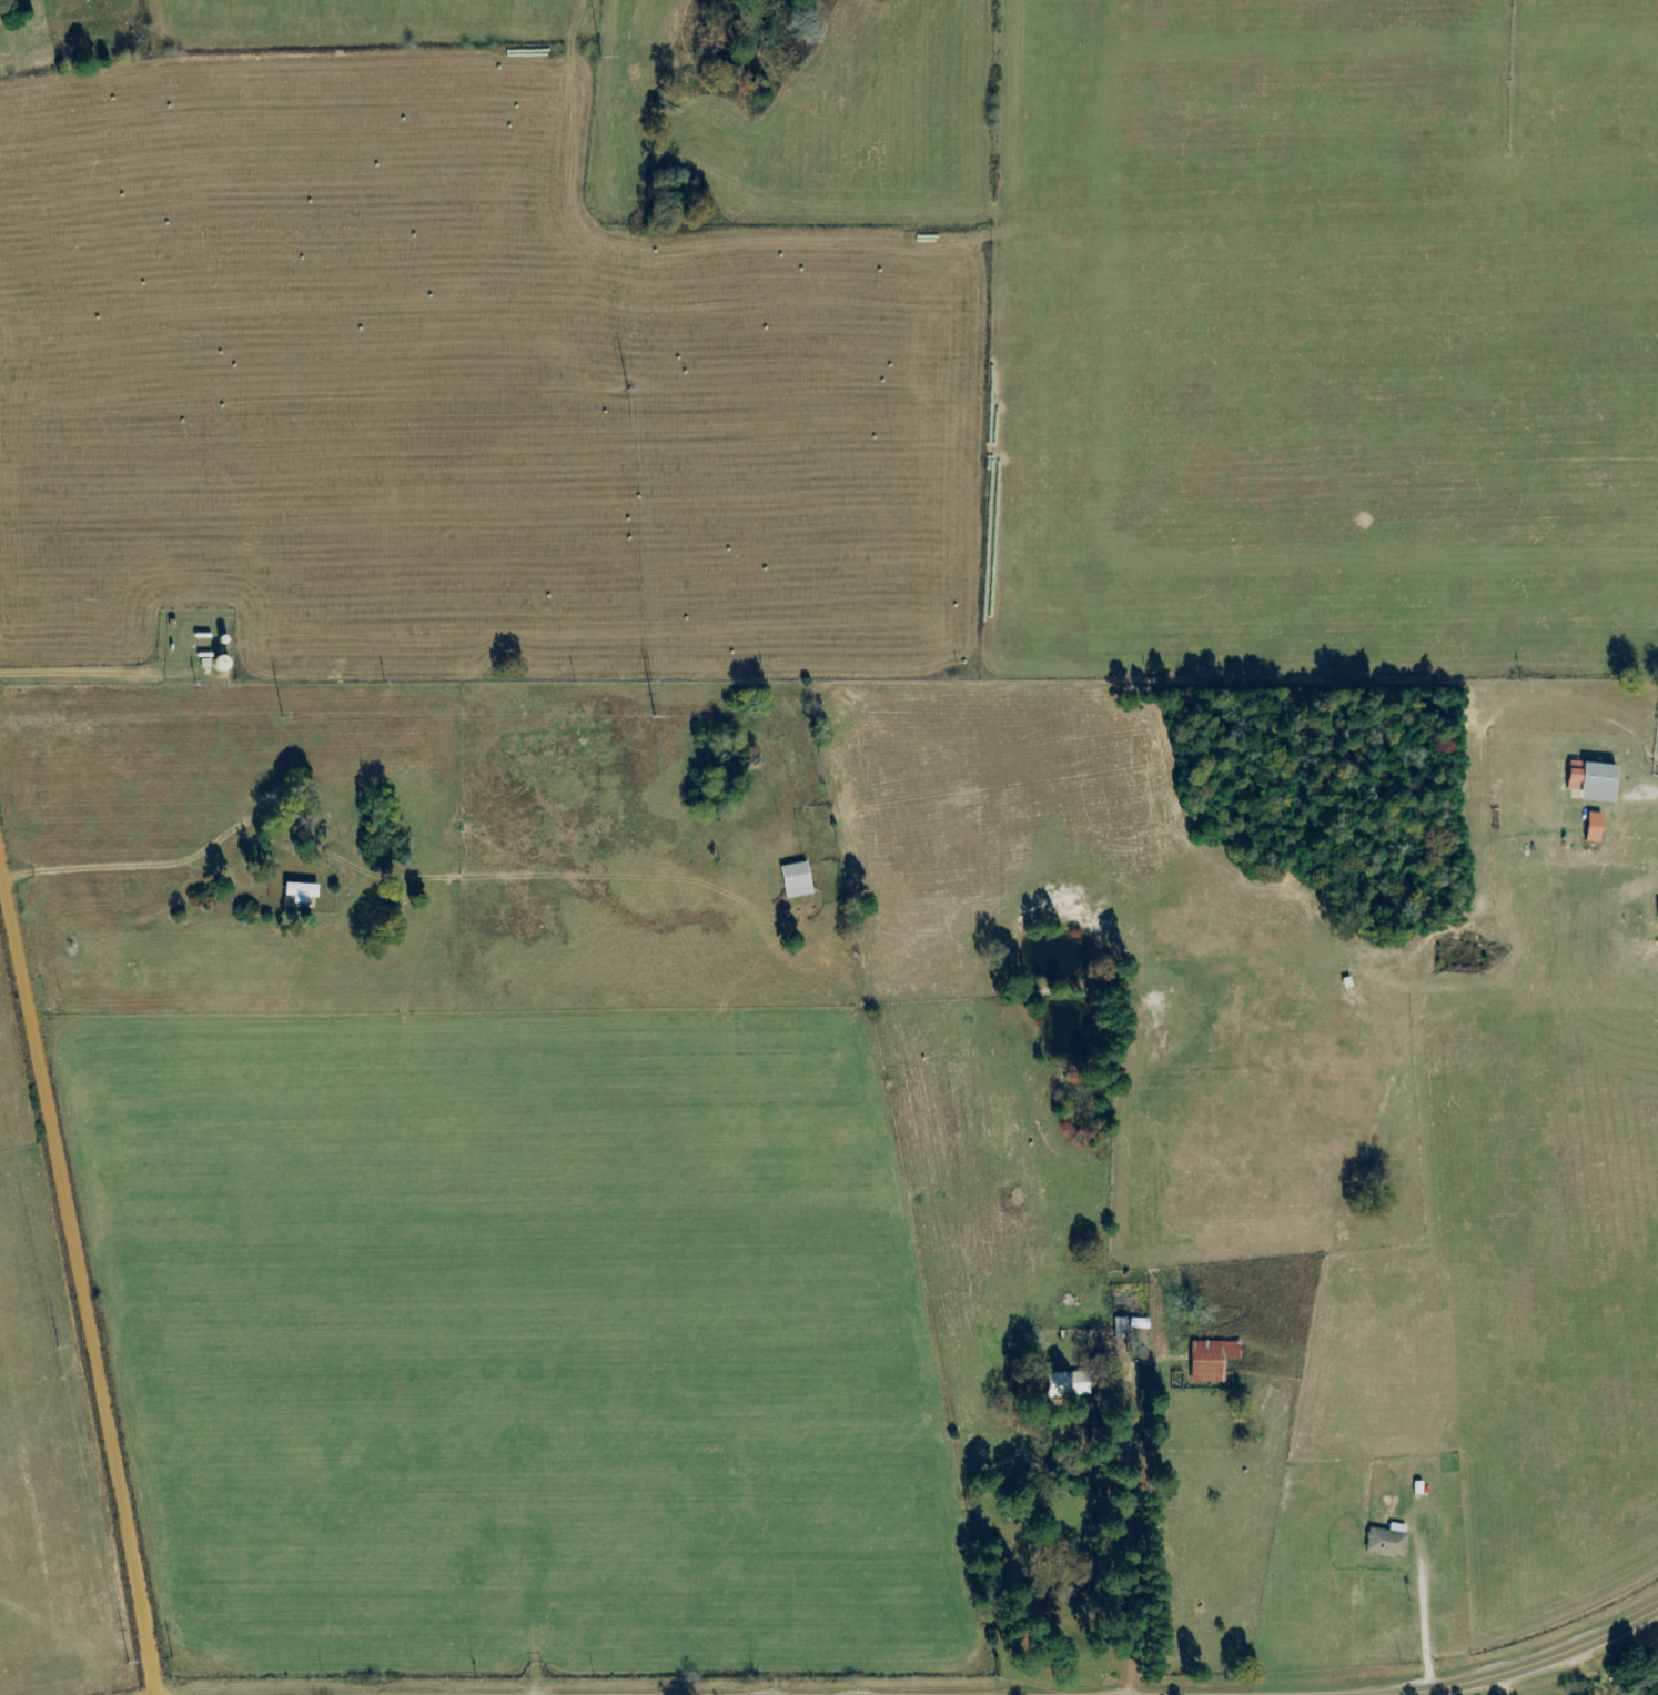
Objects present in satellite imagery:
building: (11, 0)
building: (1590, 783)
building: (1591, 828)
building: (793, 881)
building: (297, 892)
building: (1657, 911)
road: (73, 1259)
building: (1210, 1360)
building: (1069, 1385)
building: (1385, 1541)
road: (1530, 1662)

